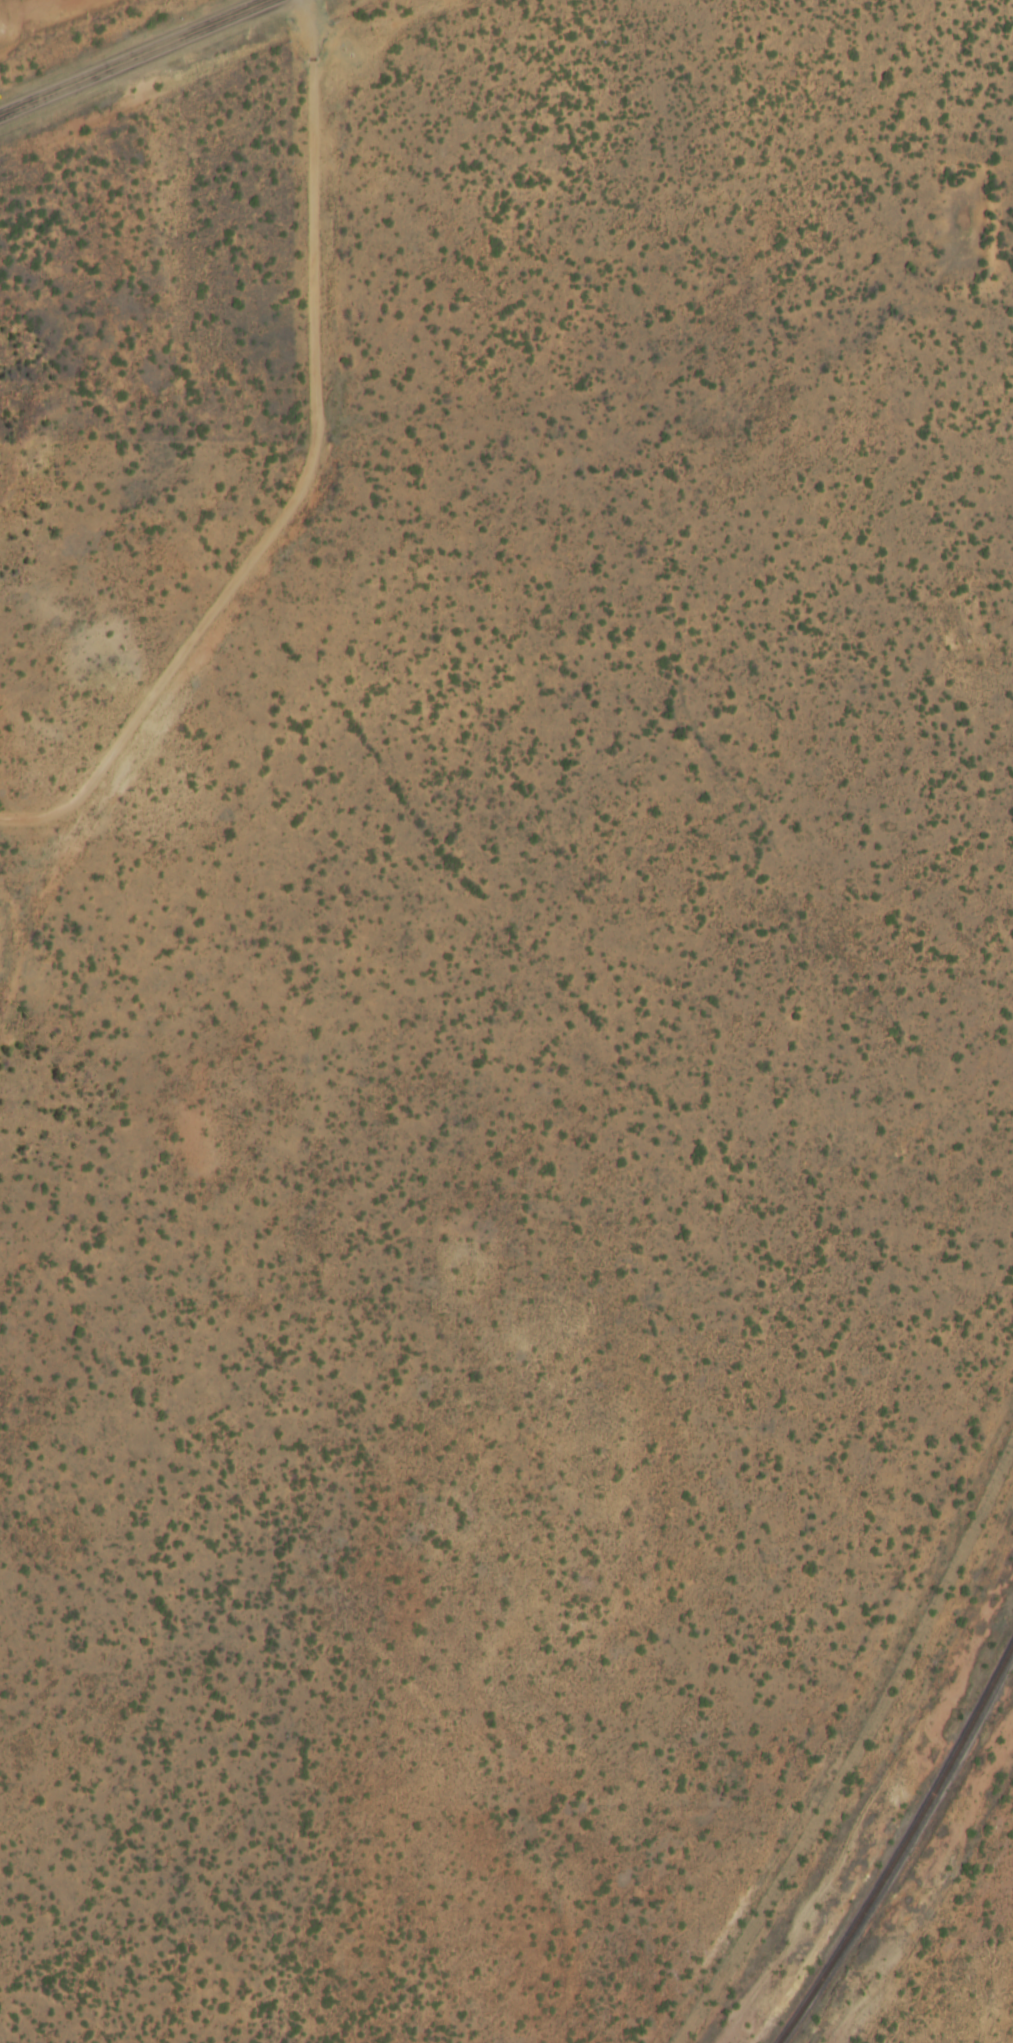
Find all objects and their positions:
road: (135, 58)
road: (866, 1710)
railway: (900, 1846)

